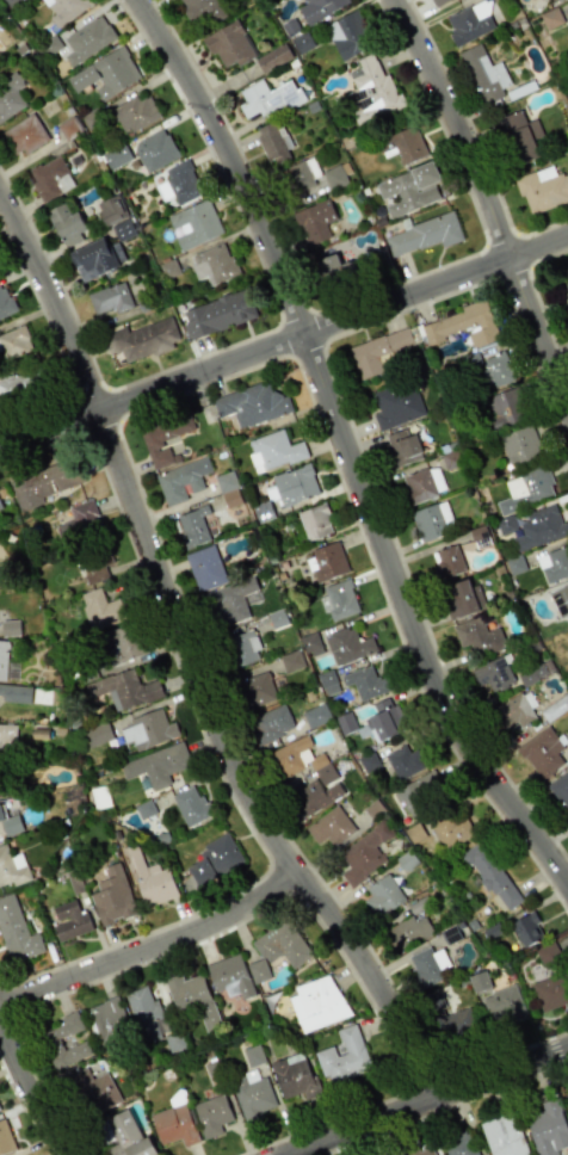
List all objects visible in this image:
building: (556, 0)
building: (557, 0)
building: (11, 1)
building: (438, 2)
building: (204, 7)
building: (319, 8)
building: (64, 10)
building: (567, 13)
building: (467, 25)
building: (348, 35)
building: (87, 39)
building: (228, 44)
building: (273, 58)
building: (483, 73)
building: (106, 74)
building: (373, 88)
building: (11, 97)
building: (267, 98)
building: (135, 113)
building: (69, 128)
building: (24, 135)
building: (521, 136)
building: (273, 142)
building: (402, 144)
building: (155, 150)
building: (117, 156)
building: (302, 174)
building: (335, 177)
building: (50, 178)
building: (179, 183)
building: (409, 189)
building: (542, 189)
road: (492, 205)
building: (112, 210)
building: (314, 221)
building: (195, 223)
building: (67, 224)
building: (124, 229)
building: (424, 234)
building: (95, 259)
building: (212, 264)
building: (333, 267)
building: (566, 276)
building: (110, 298)
building: (5, 302)
building: (220, 314)
building: (463, 325)
building: (143, 339)
building: (14, 342)
road: (283, 342)
building: (379, 352)
building: (496, 370)
building: (19, 385)
building: (252, 403)
building: (397, 404)
building: (504, 407)
building: (163, 436)
building: (520, 445)
building: (403, 447)
building: (273, 451)
road: (342, 455)
building: (183, 480)
building: (43, 482)
building: (292, 484)
building: (420, 484)
building: (526, 488)
building: (229, 490)
building: (0, 507)
building: (432, 520)
building: (79, 521)
building: (315, 521)
building: (193, 525)
building: (539, 527)
building: (449, 561)
building: (92, 562)
building: (327, 562)
building: (554, 563)
building: (205, 568)
building: (1, 574)
building: (462, 598)
building: (340, 599)
building: (560, 599)
building: (233, 600)
building: (101, 609)
building: (10, 628)
building: (477, 636)
building: (122, 643)
building: (348, 646)
building: (245, 648)
building: (2, 659)
building: (292, 661)
road: (189, 663)
building: (494, 673)
building: (365, 682)
building: (124, 688)
building: (257, 688)
building: (16, 693)
building: (555, 709)
building: (514, 712)
building: (316, 716)
building: (384, 719)
building: (271, 723)
building: (148, 729)
building: (98, 734)
building: (7, 740)
building: (542, 752)
building: (303, 760)
building: (405, 762)
building: (158, 765)
building: (2, 782)
building: (560, 790)
building: (421, 792)
building: (314, 797)
building: (70, 798)
building: (191, 805)
building: (10, 823)
building: (331, 827)
building: (452, 828)
building: (364, 853)
building: (215, 859)
building: (12, 867)
building: (492, 876)
building: (150, 879)
building: (382, 895)
building: (112, 896)
building: (70, 920)
building: (526, 929)
building: (16, 931)
building: (408, 931)
building: (282, 944)
road: (152, 949)
building: (549, 955)
building: (428, 965)
building: (258, 971)
building: (230, 976)
building: (480, 982)
building: (551, 990)
building: (192, 997)
building: (316, 1002)
building: (504, 1006)
building: (144, 1013)
building: (107, 1019)
building: (455, 1023)
building: (50, 1039)
building: (344, 1056)
building: (294, 1076)
building: (94, 1089)
building: (252, 1093)
road: (31, 1095)
road: (427, 1102)
building: (211, 1114)
building: (174, 1125)
building: (547, 1128)
building: (128, 1136)
building: (504, 1136)
building: (5, 1139)
building: (458, 1144)
building: (421, 1151)

